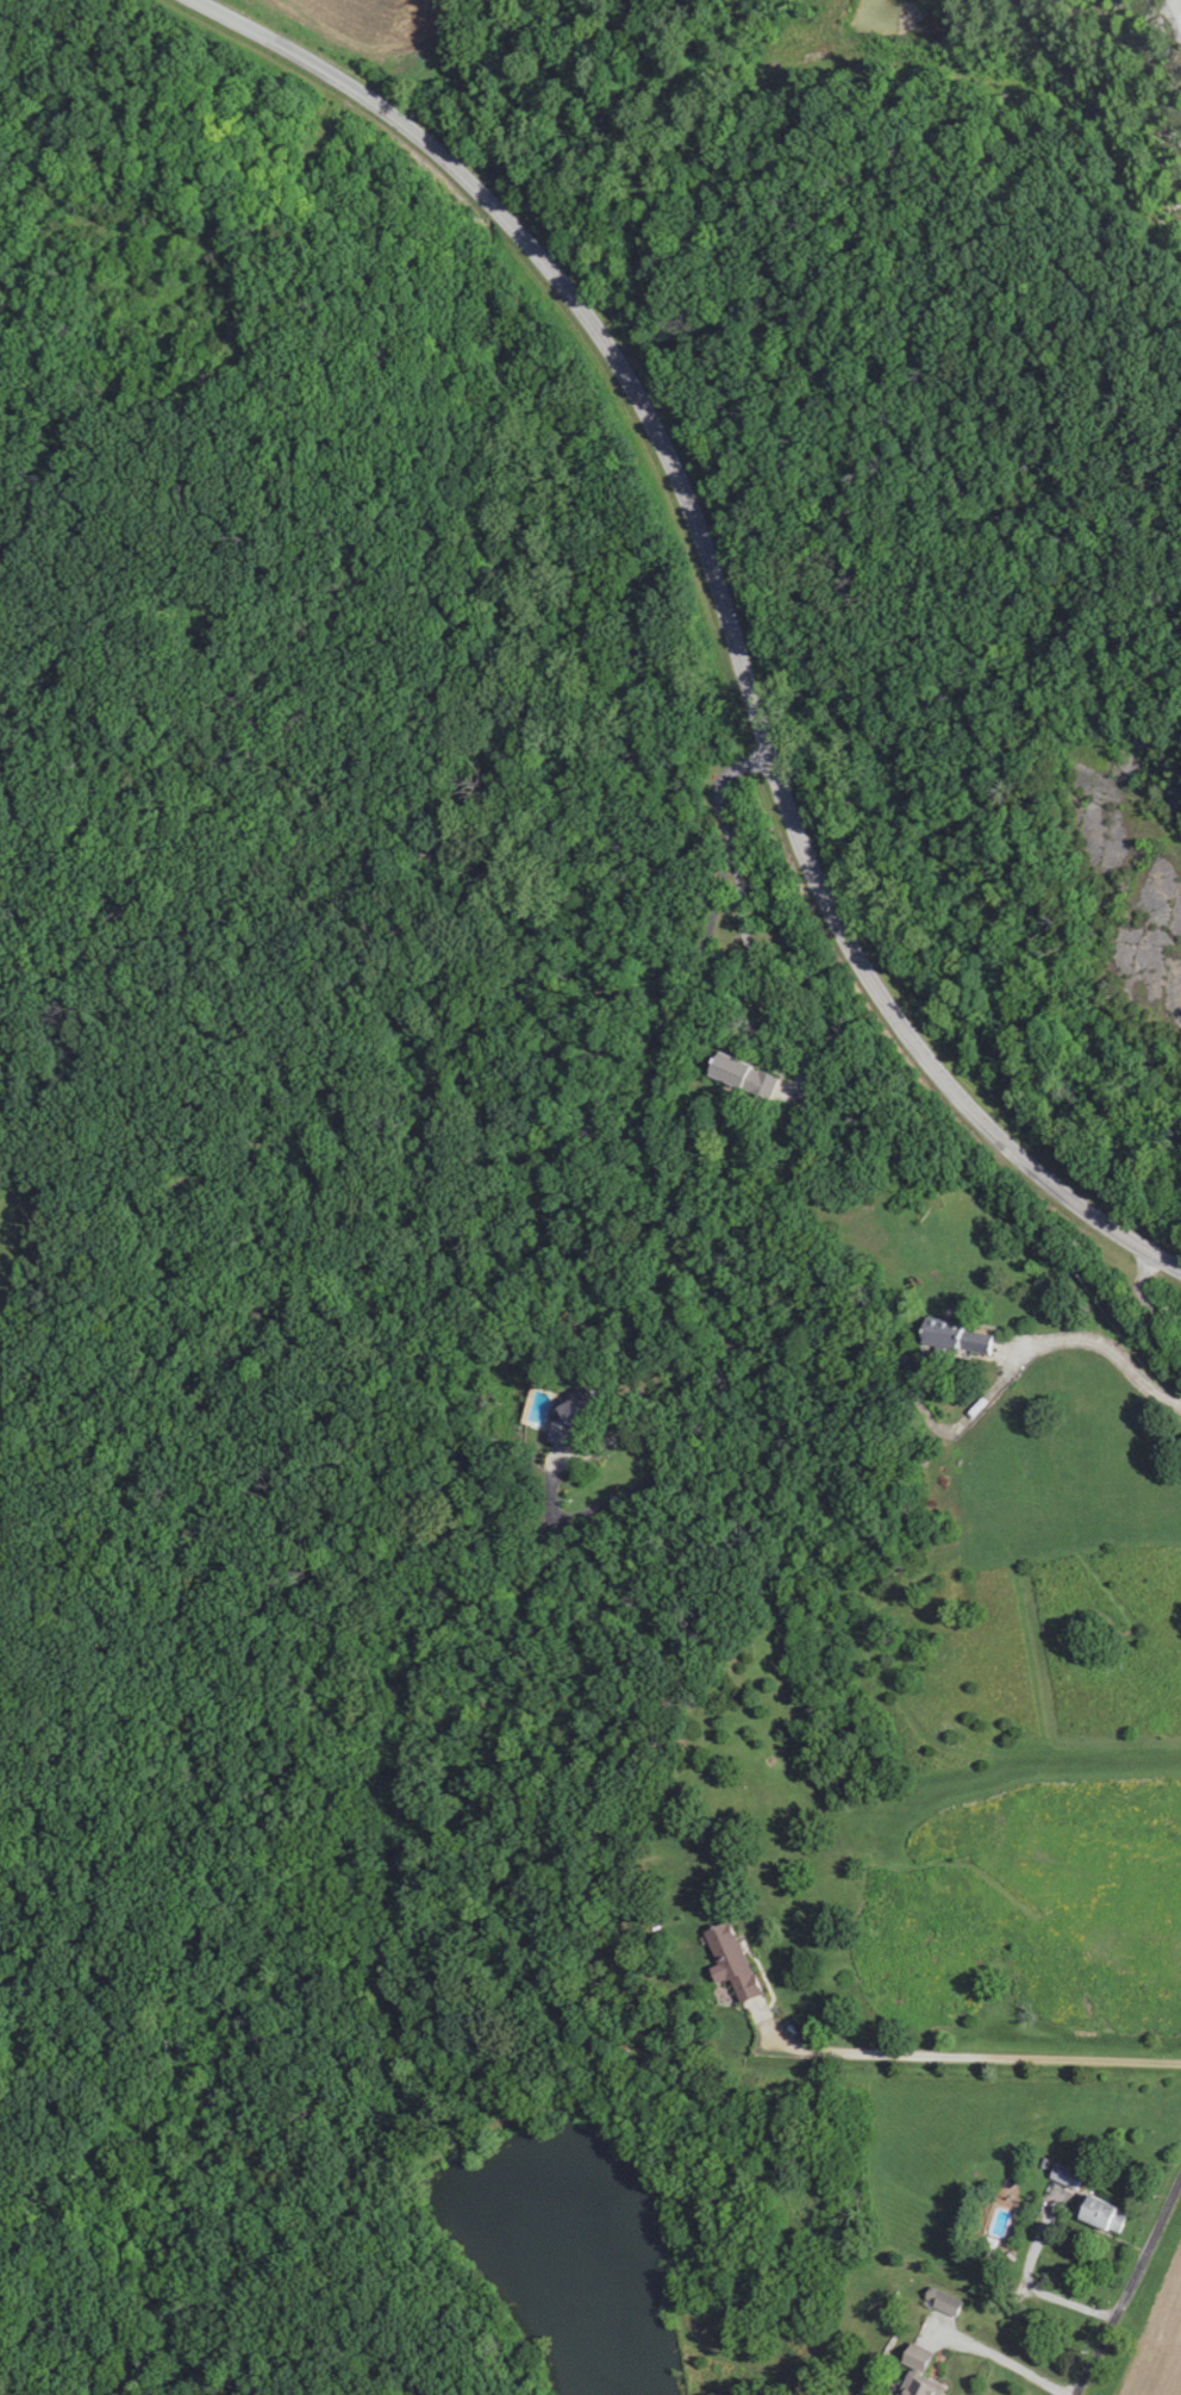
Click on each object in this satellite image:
road: (727, 605)
building: (742, 1077)
building: (954, 1336)
road: (1102, 1355)
building: (567, 1417)
road: (629, 1614)
road: (691, 1801)
building: (730, 1961)
road: (963, 2057)
building: (1066, 2176)
road: (1037, 2287)
road: (1131, 2288)
building: (942, 2300)
road: (988, 2352)
building: (917, 2372)

